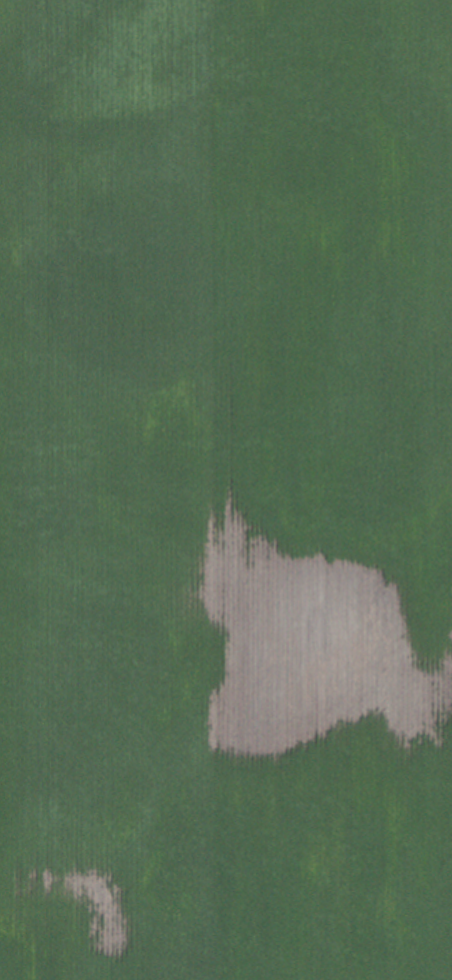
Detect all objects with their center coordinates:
crop: (226, 490)

